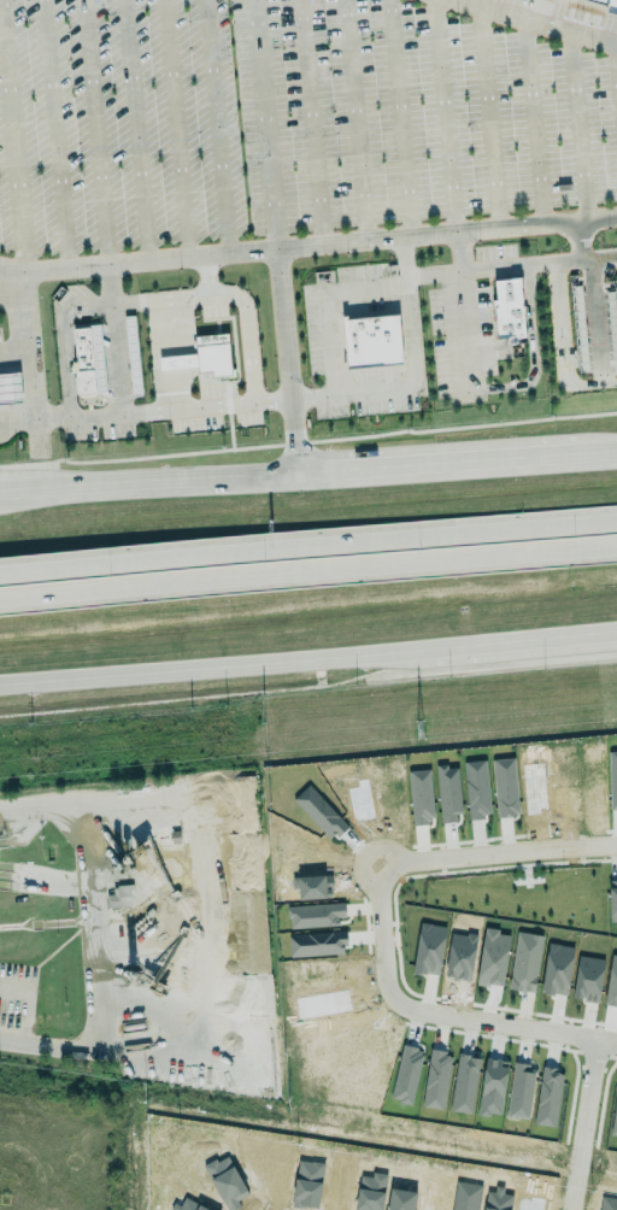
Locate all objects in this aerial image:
building: (610, 1)
road: (540, 20)
road: (616, 48)
road: (445, 117)
road: (489, 117)
road: (401, 119)
road: (354, 121)
road: (534, 121)
road: (311, 123)
road: (264, 125)
road: (578, 125)
road: (216, 128)
road: (176, 129)
road: (135, 131)
road: (94, 134)
road: (55, 135)
road: (12, 141)
road: (306, 248)
road: (592, 255)
road: (565, 258)
road: (434, 275)
road: (206, 276)
road: (13, 286)
road: (225, 296)
building: (512, 310)
road: (586, 321)
road: (63, 340)
building: (371, 340)
road: (554, 352)
building: (131, 354)
building: (213, 354)
building: (82, 360)
building: (177, 362)
road: (290, 362)
road: (33, 365)
road: (117, 366)
road: (515, 384)
building: (11, 387)
gas station: (11, 387)
road: (349, 392)
road: (311, 395)
road: (208, 406)
road: (53, 419)
road: (307, 472)
road: (308, 545)
road: (308, 574)
road: (308, 652)
railway: (308, 669)
power tower: (418, 729)
building: (121, 895)
road: (90, 897)
road: (380, 924)
building: (317, 944)
road: (87, 1052)
road: (588, 1124)

